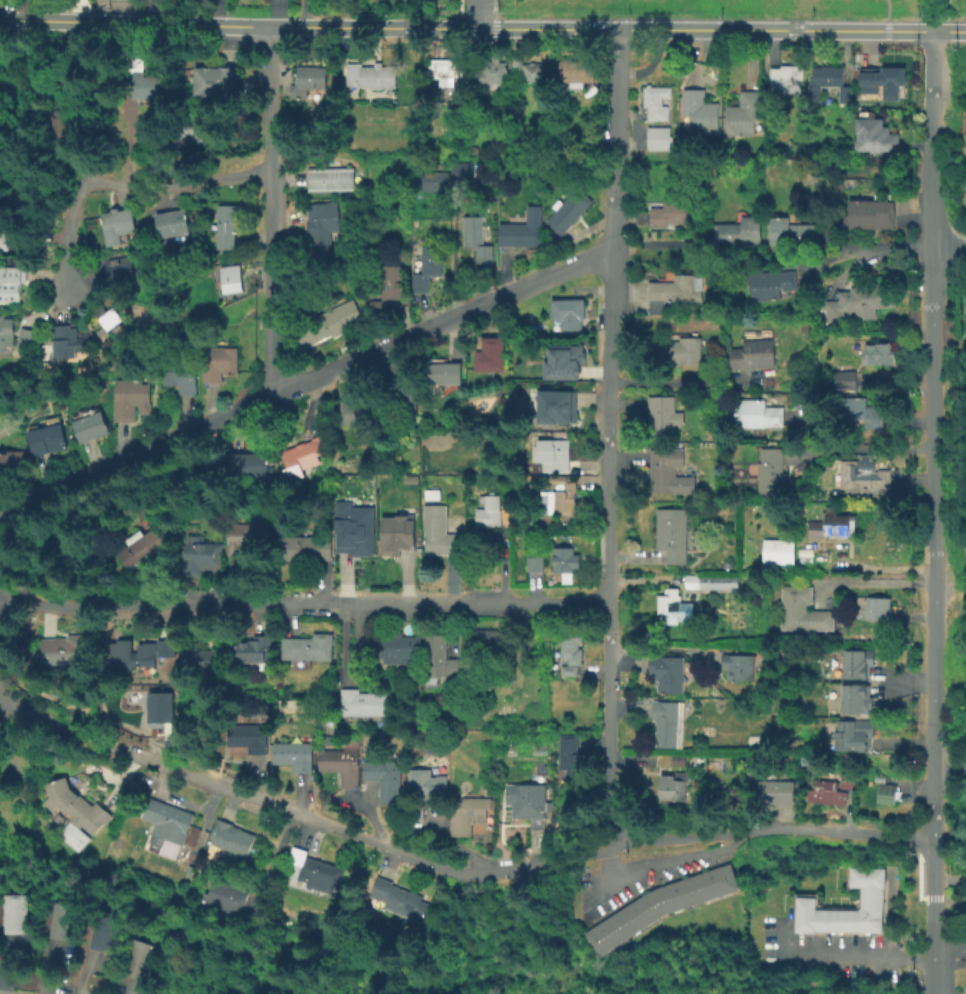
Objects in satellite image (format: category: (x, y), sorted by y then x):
park: (928, 7)
road: (152, 12)
road: (478, 14)
road: (887, 25)
road: (482, 29)
building: (446, 68)
building: (576, 69)
building: (528, 70)
building: (489, 72)
building: (217, 73)
building: (372, 75)
building: (787, 77)
building: (144, 79)
building: (309, 80)
building: (869, 81)
building: (891, 81)
building: (828, 82)
building: (656, 102)
building: (699, 110)
building: (743, 113)
building: (66, 121)
building: (195, 128)
building: (876, 131)
building: (659, 138)
road: (81, 164)
building: (446, 176)
building: (331, 178)
road: (182, 183)
building: (568, 209)
road: (272, 211)
building: (669, 212)
building: (869, 215)
building: (174, 222)
building: (323, 223)
building: (120, 224)
building: (229, 224)
building: (523, 229)
building: (739, 231)
building: (792, 231)
road: (69, 232)
building: (151, 233)
building: (476, 238)
building: (8, 239)
road: (948, 245)
road: (867, 248)
building: (427, 267)
building: (119, 271)
building: (230, 278)
building: (11, 283)
building: (772, 283)
building: (388, 284)
building: (673, 291)
building: (859, 304)
building: (568, 312)
building: (107, 316)
building: (333, 320)
building: (59, 330)
building: (6, 332)
building: (27, 337)
building: (77, 342)
building: (679, 351)
building: (880, 353)
building: (491, 354)
building: (754, 354)
building: (567, 356)
building: (218, 362)
building: (446, 372)
building: (181, 373)
building: (848, 378)
road: (681, 381)
road: (305, 383)
building: (402, 395)
building: (131, 398)
building: (560, 405)
building: (863, 411)
building: (357, 412)
building: (758, 413)
building: (663, 414)
building: (92, 426)
road: (930, 435)
road: (610, 436)
building: (48, 438)
road: (866, 449)
building: (555, 455)
building: (306, 456)
building: (10, 462)
building: (251, 463)
building: (670, 470)
building: (773, 471)
building: (863, 475)
building: (565, 493)
building: (435, 494)
building: (491, 512)
building: (833, 525)
building: (356, 530)
building: (440, 531)
building: (401, 533)
building: (672, 533)
building: (248, 536)
building: (144, 547)
building: (308, 547)
building: (777, 551)
building: (204, 554)
building: (566, 562)
building: (535, 563)
road: (871, 581)
building: (693, 584)
building: (669, 604)
road: (303, 605)
building: (878, 608)
building: (803, 610)
building: (486, 643)
building: (169, 645)
building: (571, 645)
building: (257, 646)
building: (308, 646)
building: (399, 649)
building: (62, 650)
building: (140, 653)
building: (440, 657)
building: (207, 661)
building: (858, 661)
building: (739, 665)
building: (569, 669)
building: (668, 671)
building: (857, 695)
building: (364, 702)
building: (161, 707)
building: (669, 722)
building: (855, 732)
building: (249, 736)
building: (294, 755)
building: (670, 759)
building: (573, 760)
building: (340, 764)
building: (384, 778)
building: (846, 780)
building: (427, 785)
building: (671, 787)
building: (827, 791)
building: (779, 792)
building: (888, 792)
building: (528, 799)
building: (77, 805)
building: (415, 809)
building: (468, 813)
building: (169, 830)
building: (231, 837)
building: (315, 869)
road: (931, 869)
road: (452, 871)
building: (225, 895)
building: (398, 898)
road: (932, 899)
road: (949, 899)
building: (868, 902)
building: (661, 905)
building: (15, 913)
building: (63, 921)
building: (103, 932)
road: (949, 946)
road: (932, 947)
parking lot: (821, 954)
road: (840, 955)
building: (140, 959)
road: (8, 992)

